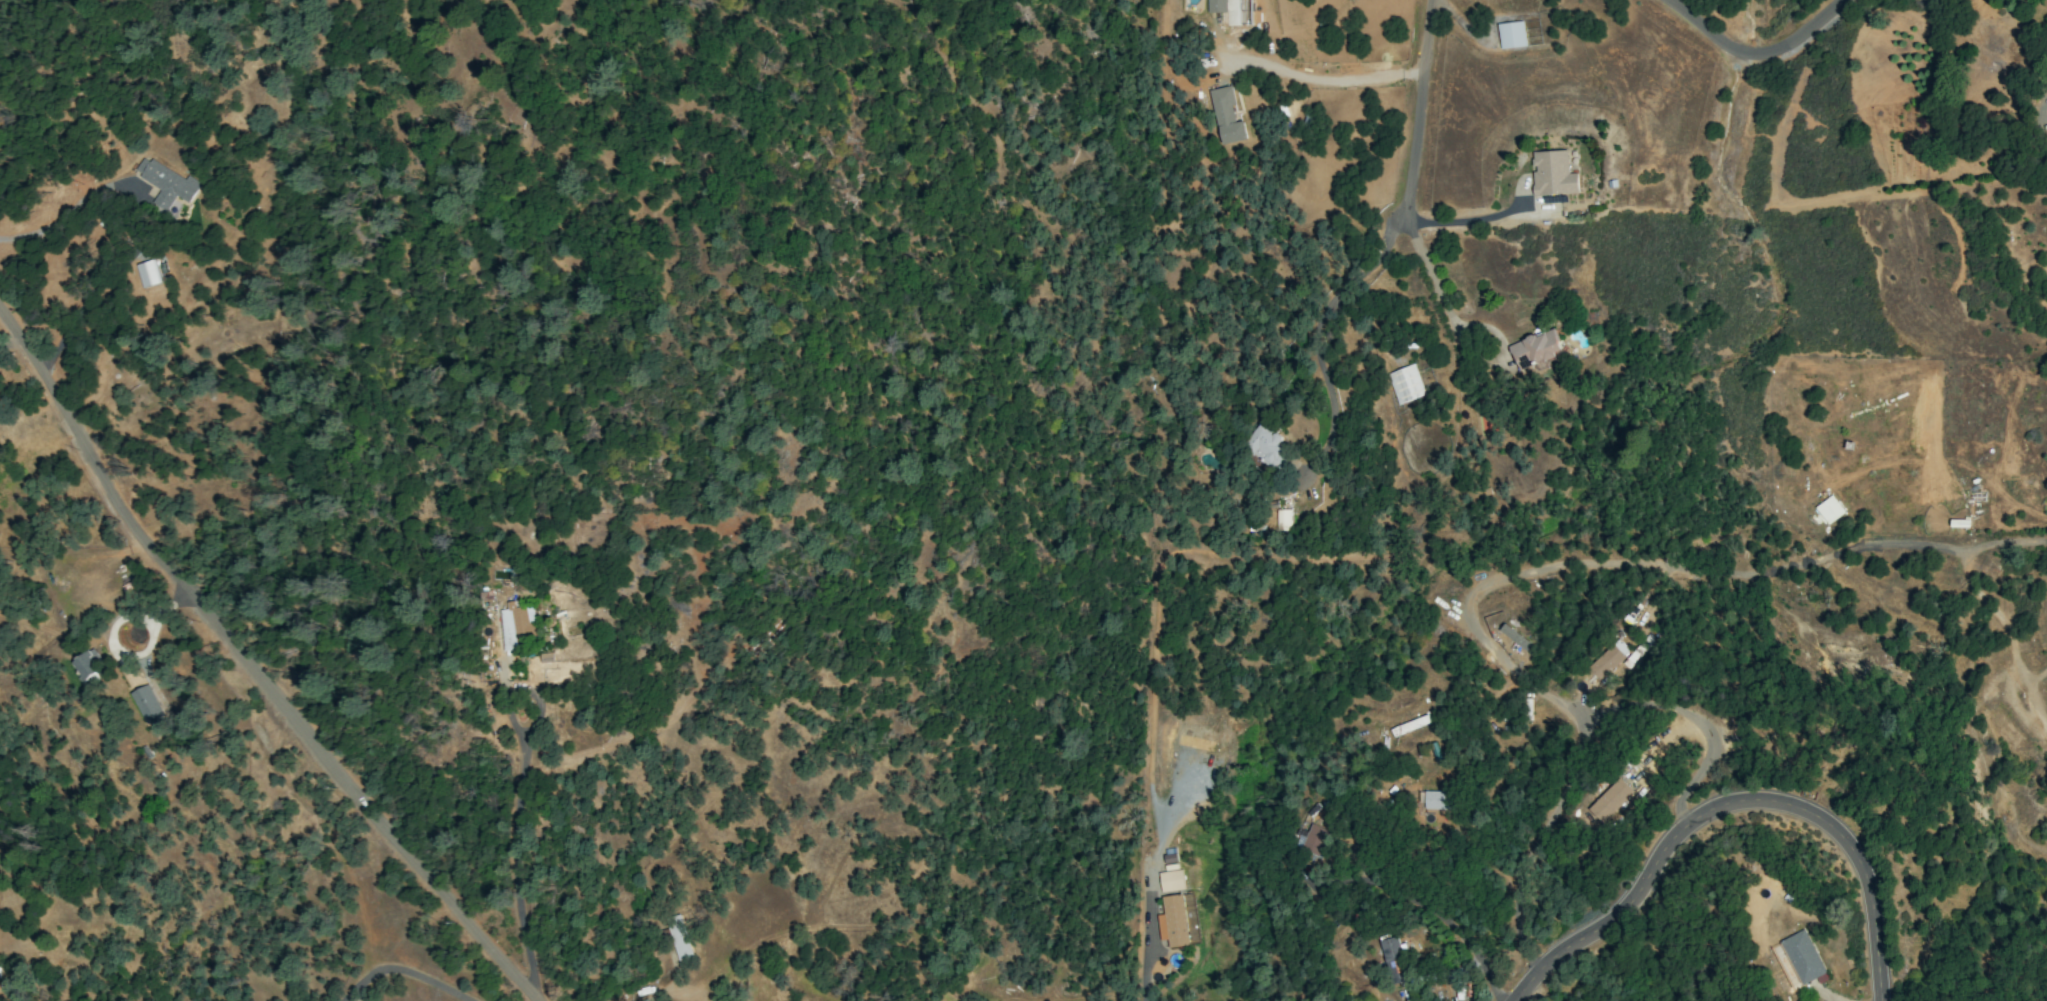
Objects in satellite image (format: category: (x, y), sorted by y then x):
building: (1217, 6)
building: (1511, 35)
road: (1757, 52)
road: (1417, 109)
building: (1226, 116)
building: (1552, 173)
building: (165, 183)
road: (59, 219)
road: (1462, 220)
road: (1428, 267)
building: (147, 273)
road: (1315, 324)
building: (1535, 351)
building: (1405, 384)
building: (1266, 446)
building: (1829, 509)
building: (1283, 520)
road: (1663, 566)
building: (516, 625)
building: (1515, 637)
building: (1629, 659)
building: (1604, 662)
building: (87, 666)
building: (545, 666)
road: (248, 672)
building: (147, 705)
building: (1409, 725)
building: (1194, 743)
road: (1580, 744)
building: (1434, 800)
building: (1609, 800)
road: (1732, 805)
building: (1310, 840)
road: (512, 864)
building: (1170, 881)
road: (1146, 916)
building: (1177, 921)
road: (1448, 921)
building: (679, 937)
building: (1801, 957)
building: (1393, 960)
road: (406, 973)

